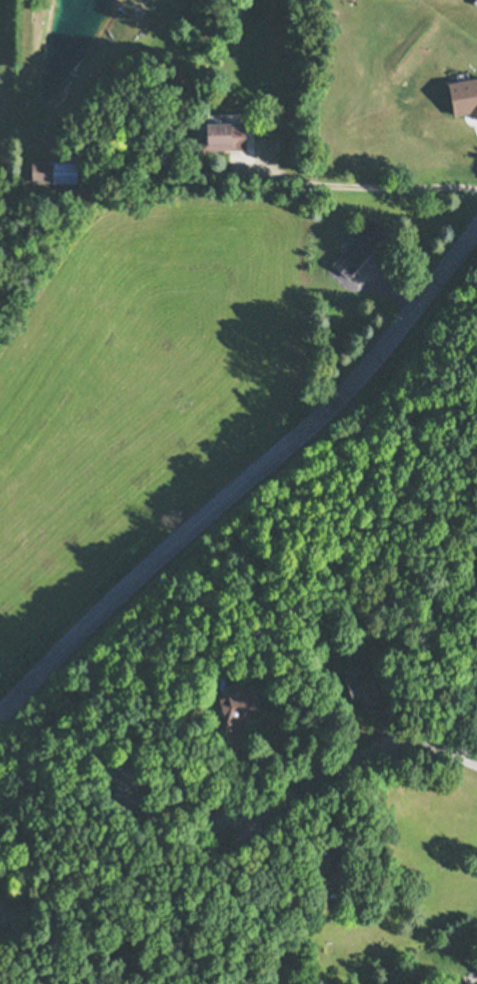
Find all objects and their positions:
building: (224, 134)
building: (101, 142)
building: (127, 144)
building: (174, 151)
building: (54, 170)
road: (368, 182)
building: (320, 203)
building: (359, 245)
road: (280, 451)
building: (364, 686)
building: (237, 703)
road: (347, 766)
building: (126, 784)
building: (328, 870)
building: (98, 892)
road: (160, 907)
building: (7, 916)

